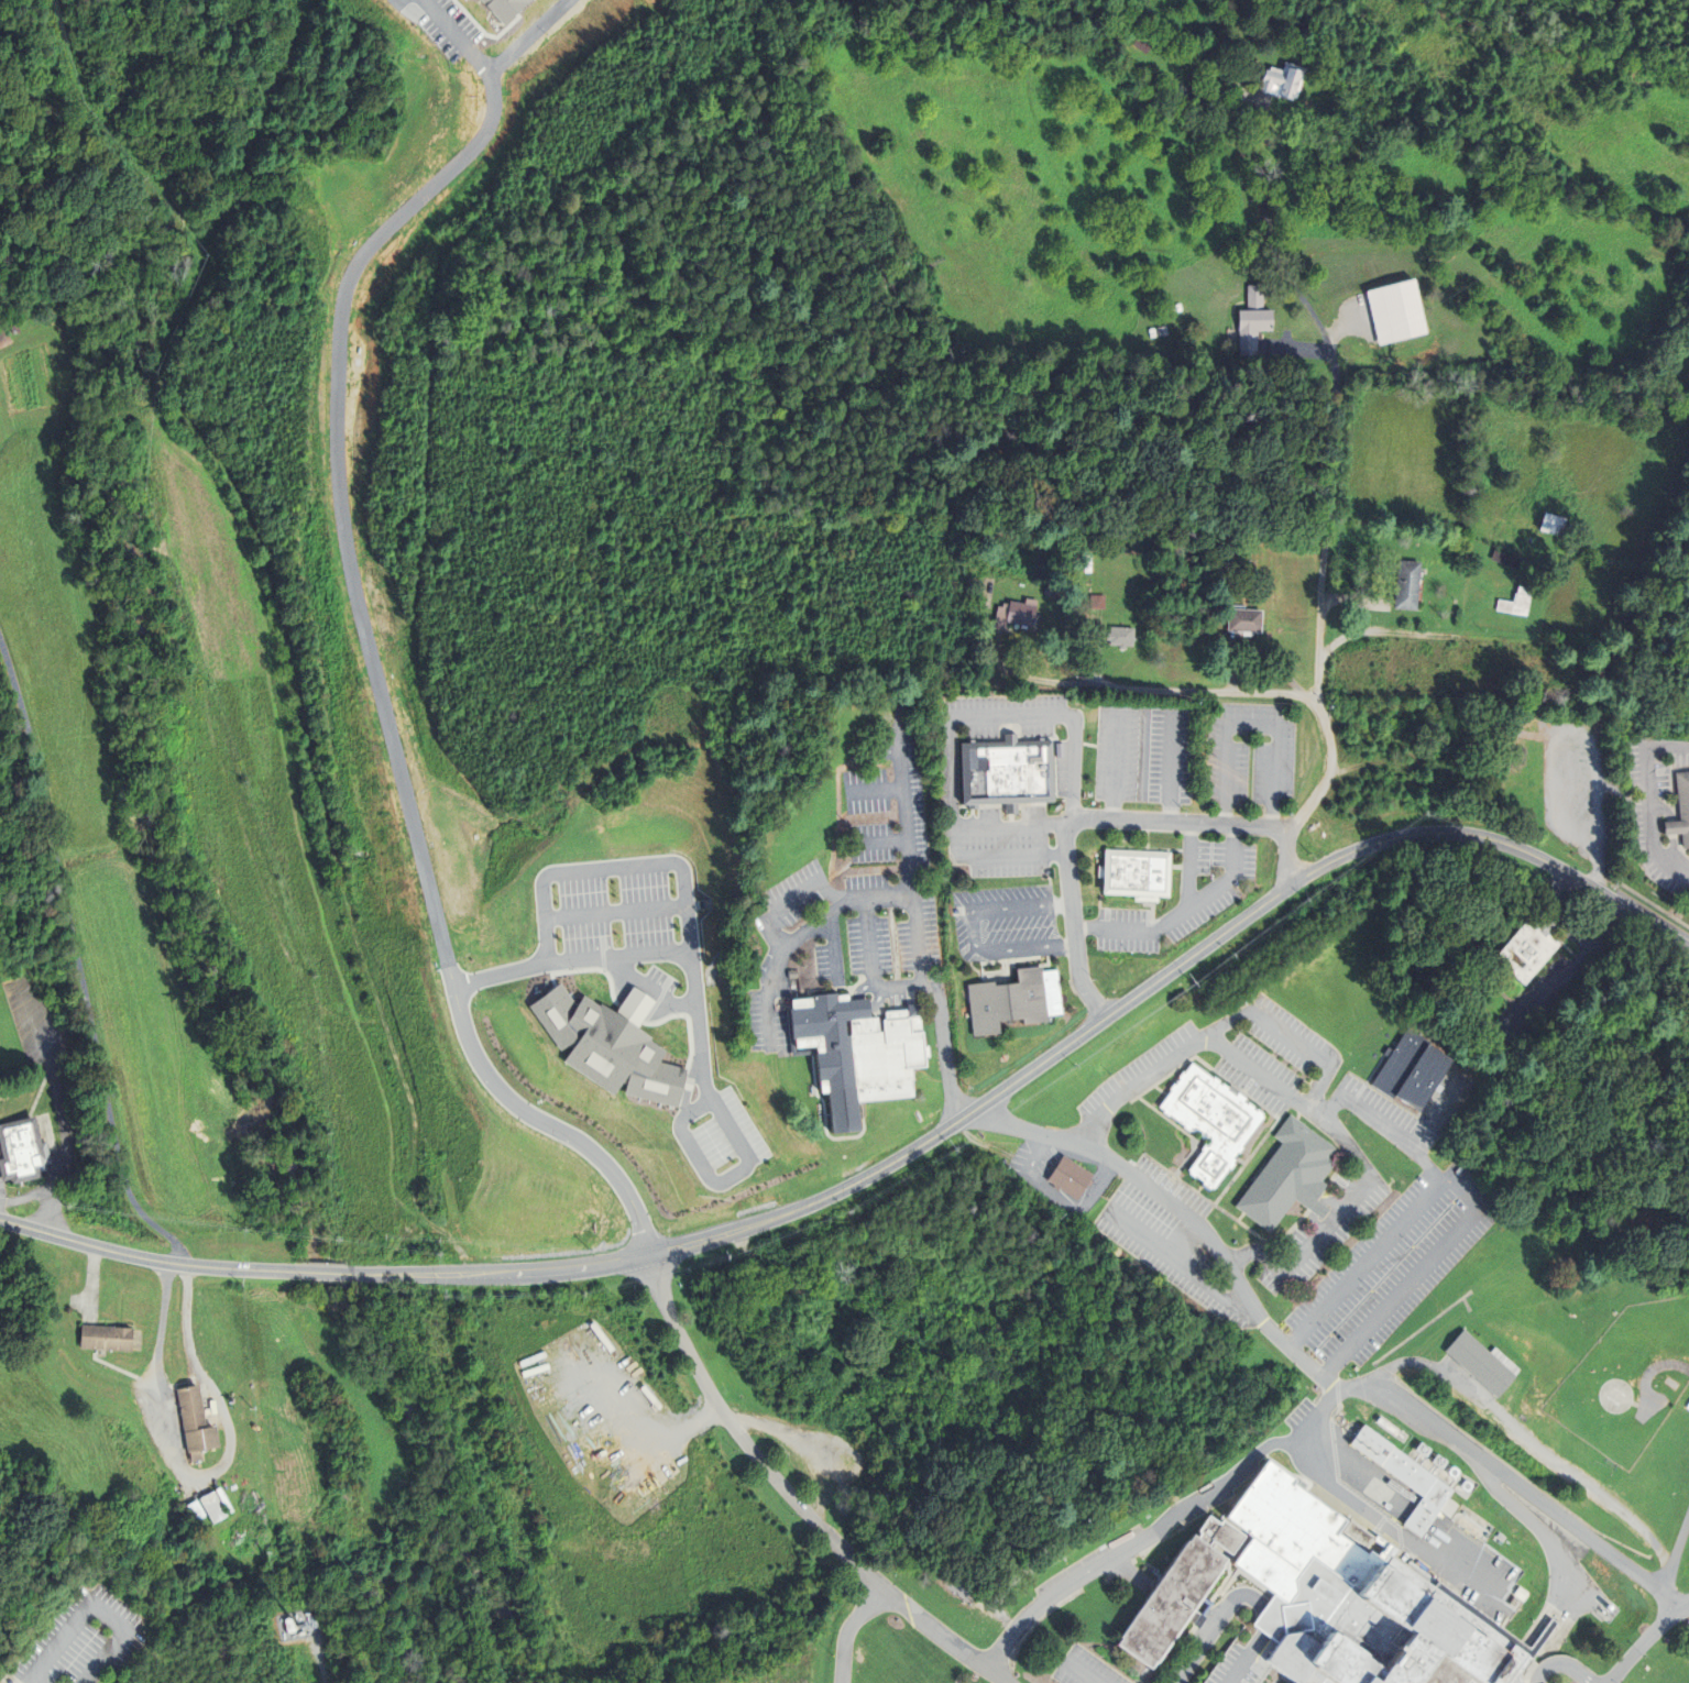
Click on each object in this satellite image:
building: (506, 9)
road: (529, 37)
road: (454, 40)
building: (1141, 42)
building: (1284, 81)
building: (1177, 91)
building: (1252, 322)
building: (15, 329)
building: (6, 341)
road: (1331, 398)
building: (1553, 525)
building: (1406, 586)
building: (1516, 604)
building: (1017, 617)
building: (1243, 621)
building: (1120, 638)
road: (1164, 691)
road: (1007, 718)
road: (1251, 725)
road: (1114, 765)
road: (1171, 767)
road: (1325, 770)
building: (1008, 773)
road: (875, 792)
road: (1648, 800)
building: (1681, 813)
road: (1597, 816)
road: (1100, 820)
road: (1007, 827)
road: (879, 842)
road: (996, 856)
road: (910, 857)
road: (1187, 866)
building: (1138, 873)
road: (791, 901)
road: (1057, 903)
road: (1009, 909)
road: (1178, 911)
road: (617, 914)
road: (973, 932)
road: (799, 935)
road: (867, 944)
road: (1027, 947)
road: (832, 949)
building: (1527, 949)
road: (446, 957)
road: (571, 961)
road: (78, 964)
road: (1165, 976)
road: (695, 982)
road: (652, 992)
building: (1012, 999)
road: (638, 1004)
road: (937, 1023)
road: (1226, 1023)
building: (611, 1044)
building: (858, 1050)
building: (801, 1069)
road: (1254, 1070)
building: (1411, 1071)
building: (688, 1083)
building: (1209, 1120)
building: (711, 1123)
road: (1386, 1129)
building: (22, 1149)
building: (714, 1169)
building: (1288, 1175)
building: (1068, 1176)
road: (1178, 1211)
road: (1183, 1240)
road: (147, 1257)
road: (1178, 1262)
road: (1367, 1262)
road: (552, 1273)
road: (323, 1274)
road: (401, 1275)
road: (871, 1305)
crop: (3, 1307)
building: (109, 1336)
building: (1481, 1362)
airport: (1627, 1377)
road: (1648, 1377)
helipad: (1614, 1395)
road: (1321, 1404)
building: (1688, 1406)
building: (199, 1422)
crop: (55, 1433)
road: (645, 1437)
road: (1536, 1447)
road: (201, 1476)
building: (1404, 1478)
building: (215, 1507)
building: (196, 1511)
road: (1392, 1530)
road: (1672, 1554)
building: (1184, 1590)
road: (1231, 1599)
road: (92, 1606)
building: (289, 1625)
road: (846, 1629)
building: (1371, 1635)
road: (1646, 1639)
parking lot: (80, 1640)
road: (321, 1658)
building: (1242, 1660)
parking lot: (1242, 1660)
parking lot: (128, 1661)
road: (1561, 1664)
road: (1077, 1672)
parking lot: (107, 1675)

